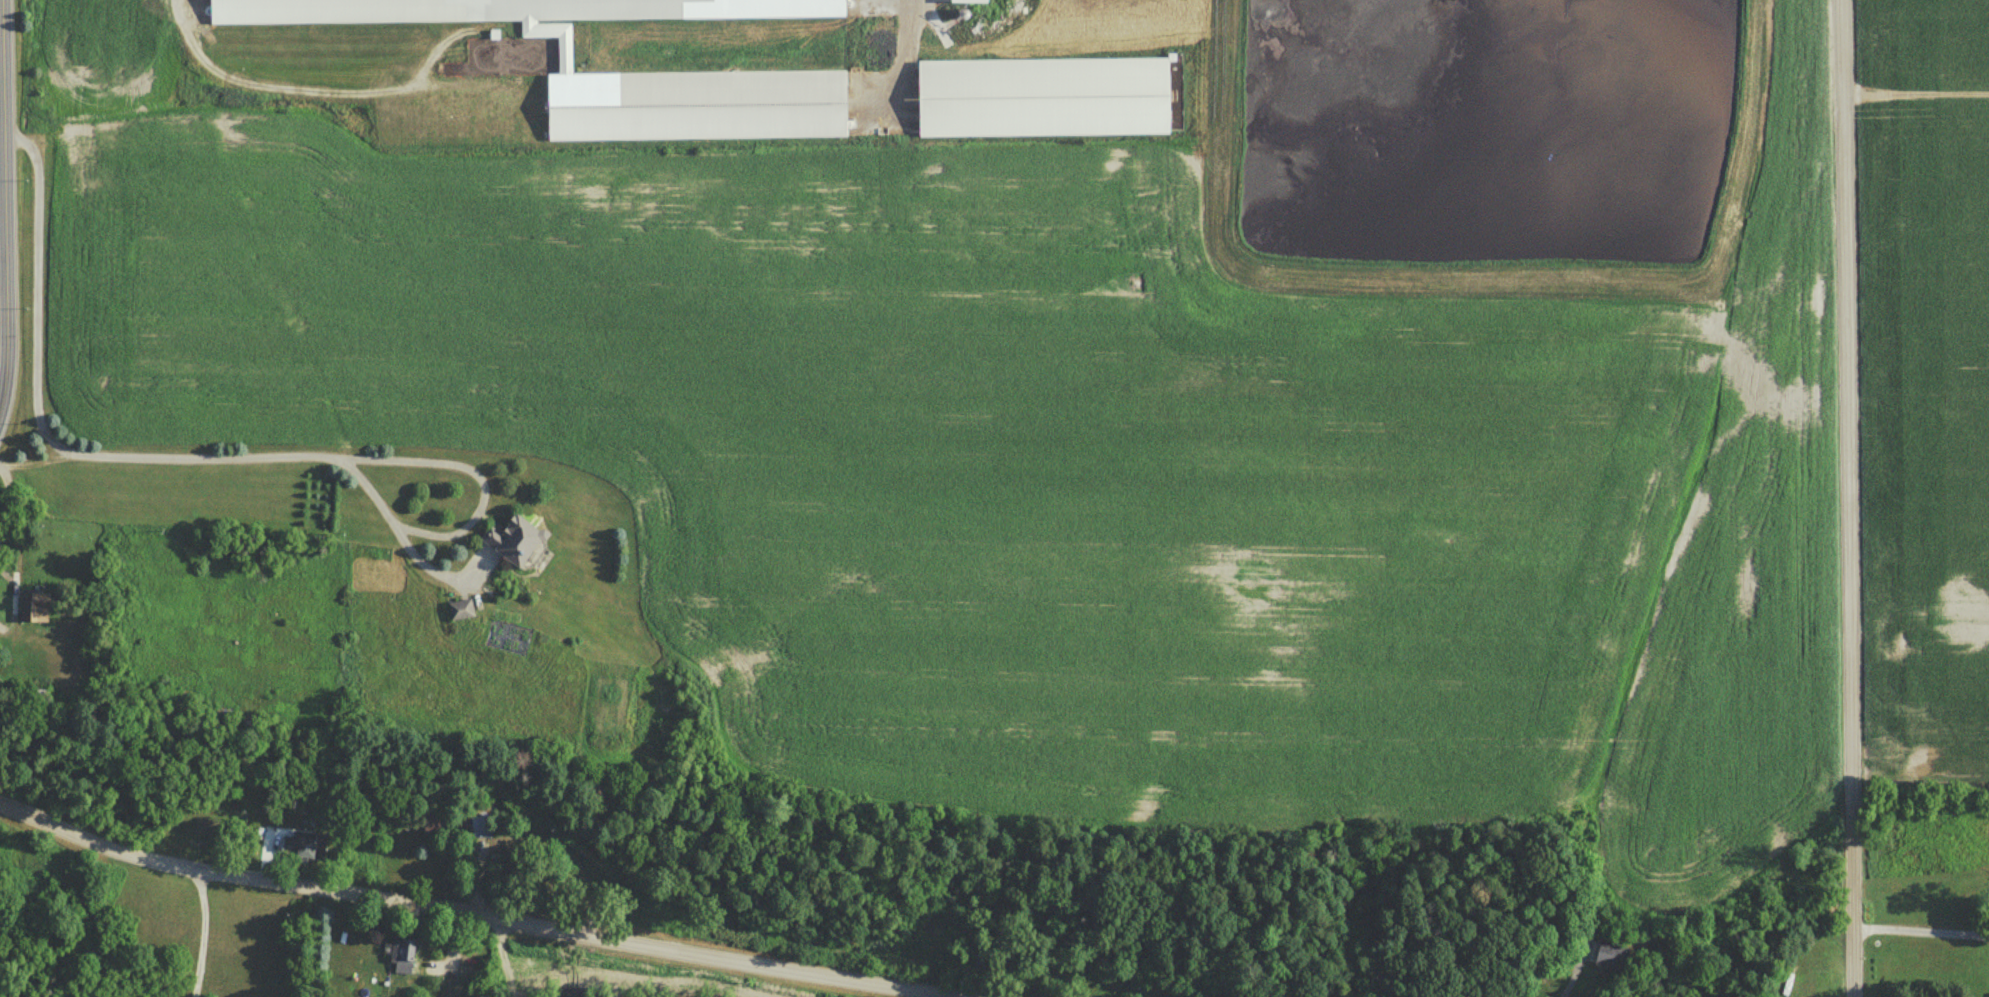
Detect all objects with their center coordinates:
building: (967, 0)
building: (507, 9)
road: (274, 94)
building: (1040, 96)
building: (694, 104)
road: (4, 203)
road: (209, 457)
road: (1846, 498)
building: (512, 539)
road: (424, 561)
building: (481, 605)
building: (32, 608)
building: (459, 610)
road: (4, 636)
building: (463, 825)
building: (302, 847)
building: (1973, 862)
building: (1891, 892)
road: (474, 912)
road: (201, 933)
road: (1921, 937)
building: (400, 954)
building: (1609, 956)

